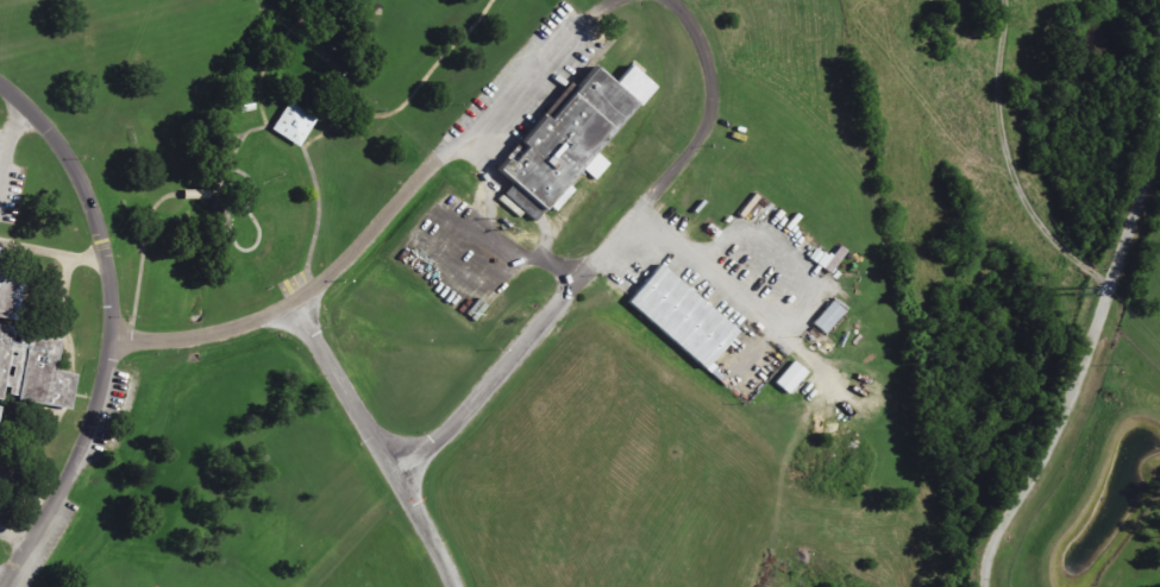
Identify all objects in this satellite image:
building: (293, 124)
building: (572, 137)
road: (8, 139)
road: (1009, 160)
road: (87, 204)
road: (539, 252)
road: (50, 253)
building: (7, 289)
power tower: (1078, 289)
road: (281, 313)
building: (679, 316)
building: (827, 317)
road: (1086, 364)
building: (31, 371)
building: (790, 377)
road: (376, 444)
road: (69, 472)
road: (29, 490)

